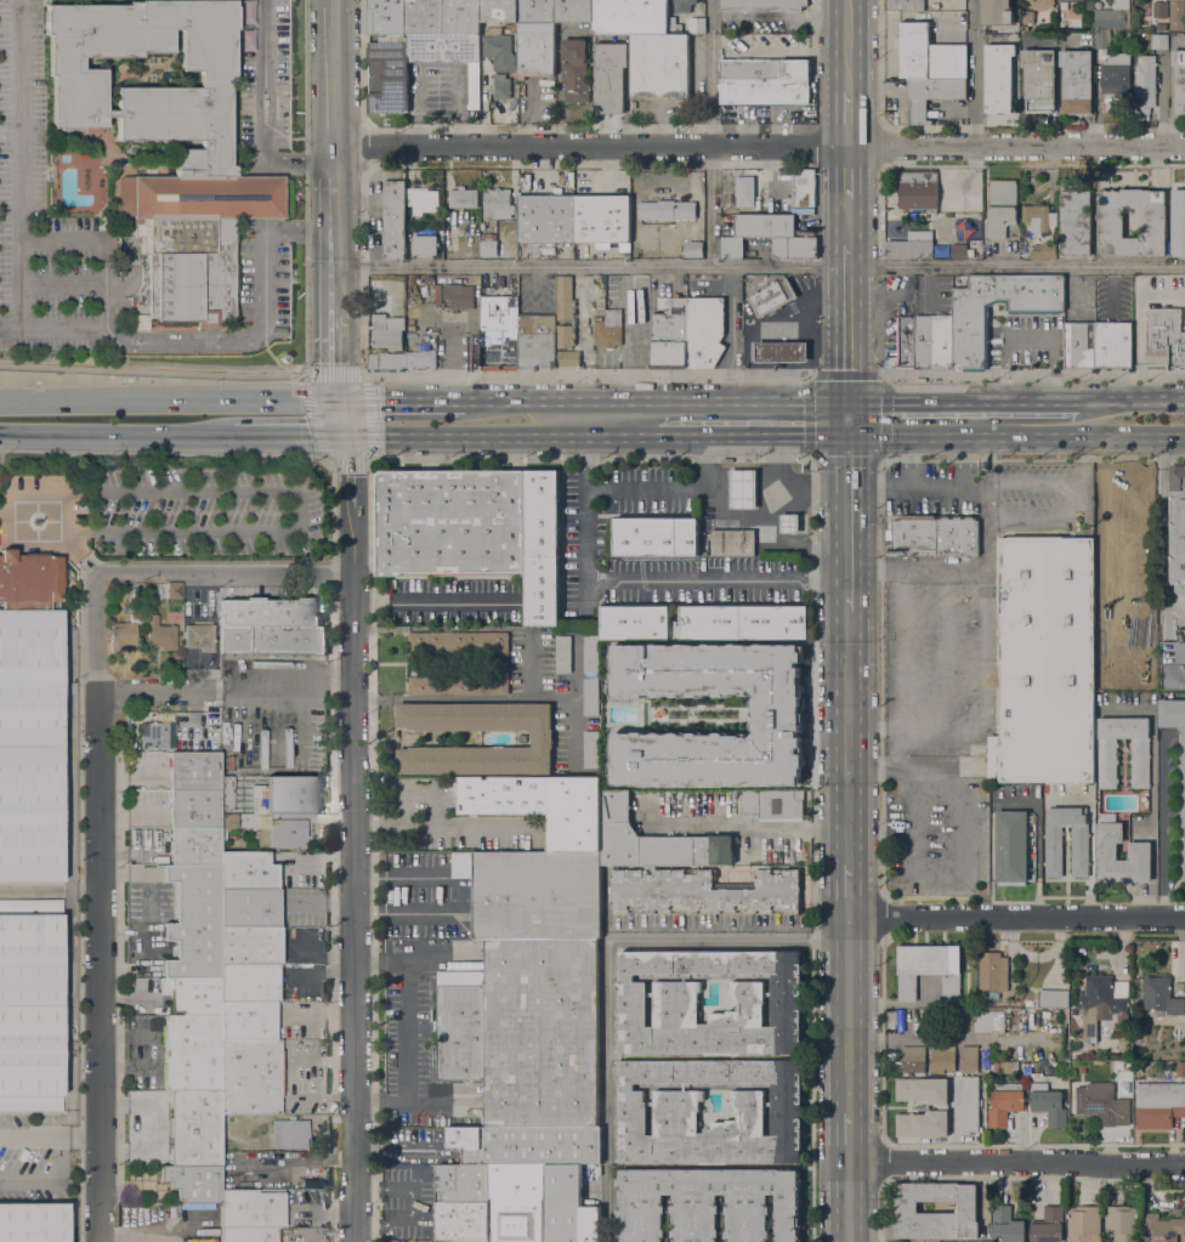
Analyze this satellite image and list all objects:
building: (1067, 0)
building: (1039, 4)
building: (684, 5)
building: (762, 5)
building: (905, 5)
building: (1161, 8)
building: (499, 11)
building: (537, 11)
building: (573, 11)
building: (999, 12)
building: (1177, 13)
building: (1113, 16)
building: (387, 17)
building: (424, 17)
building: (461, 17)
building: (630, 17)
building: (1028, 17)
building: (696, 24)
building: (674, 27)
building: (1161, 27)
building: (914, 28)
building: (514, 29)
building: (1147, 35)
building: (1102, 38)
building: (1160, 40)
road: (847, 45)
building: (913, 45)
building: (461, 49)
building: (499, 49)
building: (535, 49)
building: (438, 68)
building: (660, 68)
building: (915, 68)
building: (397, 69)
building: (576, 69)
building: (764, 69)
road: (973, 72)
parking lot: (265, 74)
building: (611, 76)
building: (999, 76)
building: (1115, 78)
building: (1039, 79)
building: (1179, 79)
building: (1077, 80)
building: (1145, 84)
building: (474, 86)
building: (501, 86)
road: (334, 87)
building: (765, 92)
building: (931, 96)
road: (265, 113)
road: (847, 118)
road: (710, 132)
road: (759, 144)
building: (202, 158)
road: (21, 163)
road: (847, 171)
road: (306, 188)
building: (803, 188)
building: (918, 189)
building: (744, 191)
road: (256, 192)
building: (463, 198)
building: (725, 199)
building: (421, 200)
building: (498, 203)
building: (1000, 206)
building: (667, 210)
building: (1038, 216)
building: (546, 219)
building: (602, 219)
building: (395, 220)
road: (847, 221)
building: (418, 222)
building: (1076, 222)
building: (1110, 222)
building: (1178, 222)
building: (765, 227)
road: (59, 236)
parking lot: (91, 240)
building: (425, 244)
road: (334, 245)
building: (912, 245)
building: (489, 248)
building: (732, 248)
building: (794, 248)
building: (693, 249)
building: (1022, 249)
building: (958, 251)
building: (1044, 251)
building: (970, 253)
road: (590, 265)
road: (1016, 266)
road: (83, 285)
building: (460, 296)
building: (772, 296)
building: (565, 297)
road: (847, 323)
building: (608, 329)
building: (387, 331)
building: (499, 331)
building: (704, 331)
building: (669, 334)
building: (563, 335)
road: (1028, 338)
building: (1164, 338)
road: (217, 340)
building: (970, 340)
building: (934, 341)
building: (535, 342)
building: (903, 344)
building: (1079, 345)
building: (1113, 345)
building: (782, 352)
road: (335, 357)
building: (567, 358)
building: (420, 359)
building: (386, 362)
road: (362, 375)
road: (586, 375)
road: (883, 375)
road: (1034, 376)
road: (151, 382)
road: (76, 401)
road: (246, 401)
traffic signals: (340, 401)
road: (401, 401)
road: (654, 401)
road: (966, 401)
traffic signals: (849, 402)
road: (1134, 402)
road: (342, 418)
road: (849, 419)
road: (87, 433)
road: (206, 435)
road: (291, 435)
traffic signals: (346, 435)
road: (500, 436)
road: (752, 437)
traffic signals: (849, 437)
road: (1016, 437)
road: (324, 450)
road: (163, 453)
road: (591, 456)
road: (777, 464)
road: (1039, 483)
building: (1129, 486)
building: (742, 488)
road: (671, 489)
road: (742, 490)
road: (812, 492)
road: (931, 492)
parking lot: (1033, 492)
road: (24, 493)
road: (2, 507)
road: (301, 507)
road: (1163, 518)
building: (450, 522)
building: (789, 523)
road: (847, 523)
road: (1054, 524)
road: (880, 526)
building: (1178, 527)
building: (936, 534)
building: (656, 537)
building: (732, 541)
building: (542, 548)
road: (72, 550)
road: (918, 569)
road: (164, 573)
road: (643, 579)
building: (174, 590)
building: (136, 591)
road: (435, 599)
building: (268, 613)
building: (705, 622)
building: (125, 631)
building: (160, 635)
building: (199, 637)
building: (1109, 640)
building: (274, 641)
building: (458, 642)
building: (591, 653)
building: (563, 654)
parking lot: (931, 656)
building: (1044, 662)
road: (528, 663)
building: (1173, 663)
building: (187, 664)
building: (458, 684)
road: (577, 690)
road: (227, 693)
road: (988, 694)
building: (591, 696)
building: (1126, 698)
building: (775, 714)
building: (29, 718)
building: (197, 731)
road: (577, 732)
building: (157, 736)
road: (847, 737)
building: (522, 738)
building: (543, 738)
building: (223, 749)
building: (591, 749)
building: (1107, 752)
building: (257, 786)
building: (204, 794)
building: (291, 798)
building: (773, 805)
building: (542, 806)
building: (1183, 807)
building: (1139, 821)
building: (228, 823)
road: (435, 826)
road: (1162, 826)
road: (796, 829)
building: (1110, 832)
building: (288, 834)
road: (356, 838)
road: (1036, 838)
building: (653, 840)
building: (138, 847)
building: (194, 847)
building: (1011, 847)
building: (1081, 850)
building: (246, 872)
road: (38, 889)
road: (89, 889)
road: (446, 890)
road: (849, 890)
building: (704, 891)
building: (533, 895)
building: (249, 909)
airport: (38, 914)
road: (881, 915)
road: (1016, 918)
building: (194, 924)
road: (704, 928)
building: (250, 946)
road: (101, 968)
road: (608, 970)
building: (930, 970)
building: (993, 975)
building: (248, 983)
building: (1162, 996)
building: (192, 997)
building: (1051, 998)
building: (676, 999)
building: (1028, 1002)
building: (969, 1003)
building: (1102, 1003)
building: (30, 1006)
road: (849, 1014)
building: (248, 1021)
building: (982, 1022)
road: (406, 1031)
building: (525, 1032)
building: (191, 1054)
building: (913, 1059)
building: (943, 1059)
building: (969, 1059)
building: (1007, 1066)
building: (996, 1067)
building: (1180, 1070)
building: (1127, 1076)
building: (250, 1077)
building: (1031, 1079)
building: (1005, 1102)
building: (970, 1104)
building: (1102, 1104)
building: (1158, 1104)
building: (1049, 1105)
building: (943, 1106)
building: (676, 1111)
building: (193, 1129)
building: (290, 1135)
road: (847, 1135)
road: (50, 1138)
building: (527, 1145)
road: (1015, 1162)
building: (192, 1184)
building: (463, 1184)
road: (392, 1186)
road: (847, 1201)
building: (516, 1202)
building: (708, 1203)
building: (568, 1207)
building: (906, 1207)
building: (251, 1210)
building: (463, 1221)
building: (33, 1223)
building: (1122, 1223)
building: (1084, 1224)
building: (1007, 1225)
building: (1049, 1225)
building: (1162, 1229)
building: (250, 1235)
building: (470, 1241)
building: (934, 1241)
building: (957, 1241)

